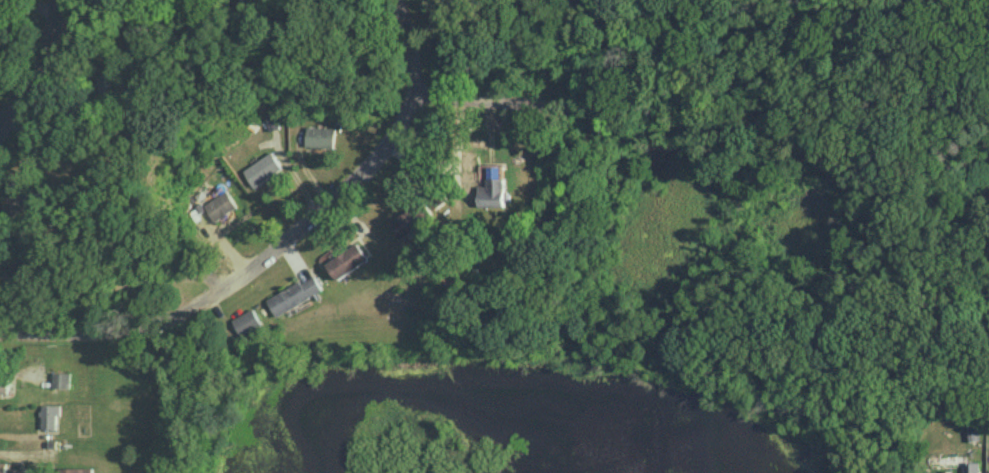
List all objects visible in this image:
road: (41, 64)
building: (111, 84)
road: (479, 102)
building: (269, 120)
building: (319, 136)
building: (261, 168)
building: (493, 192)
building: (20, 198)
building: (218, 206)
building: (407, 220)
road: (280, 247)
building: (347, 260)
building: (15, 268)
building: (127, 285)
building: (295, 294)
building: (248, 321)
building: (61, 379)
building: (4, 387)
building: (49, 416)
building: (970, 467)
building: (7, 468)
building: (77, 470)
building: (472, 470)

